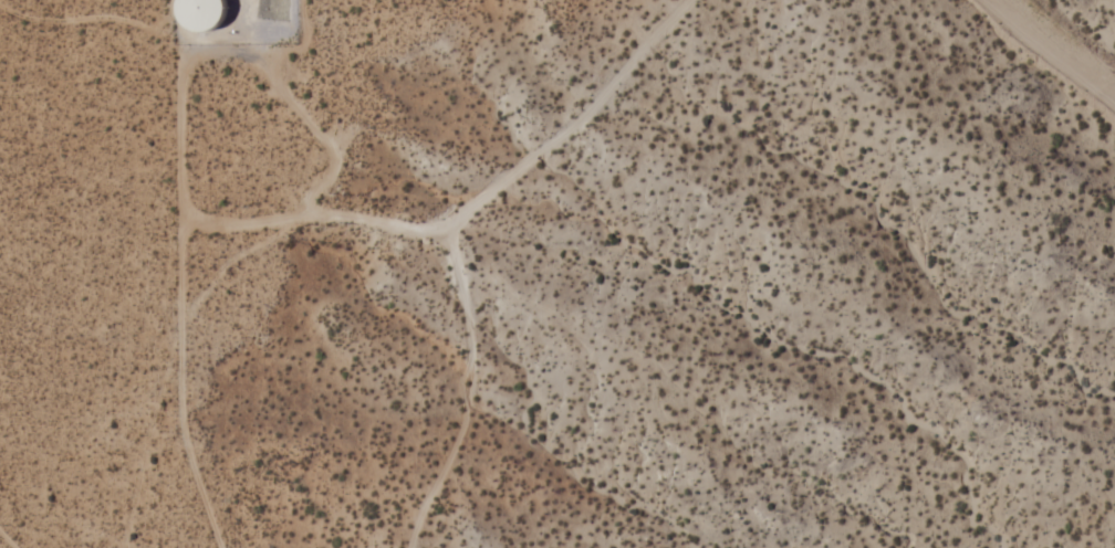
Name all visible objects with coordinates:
road: (1054, 50)

